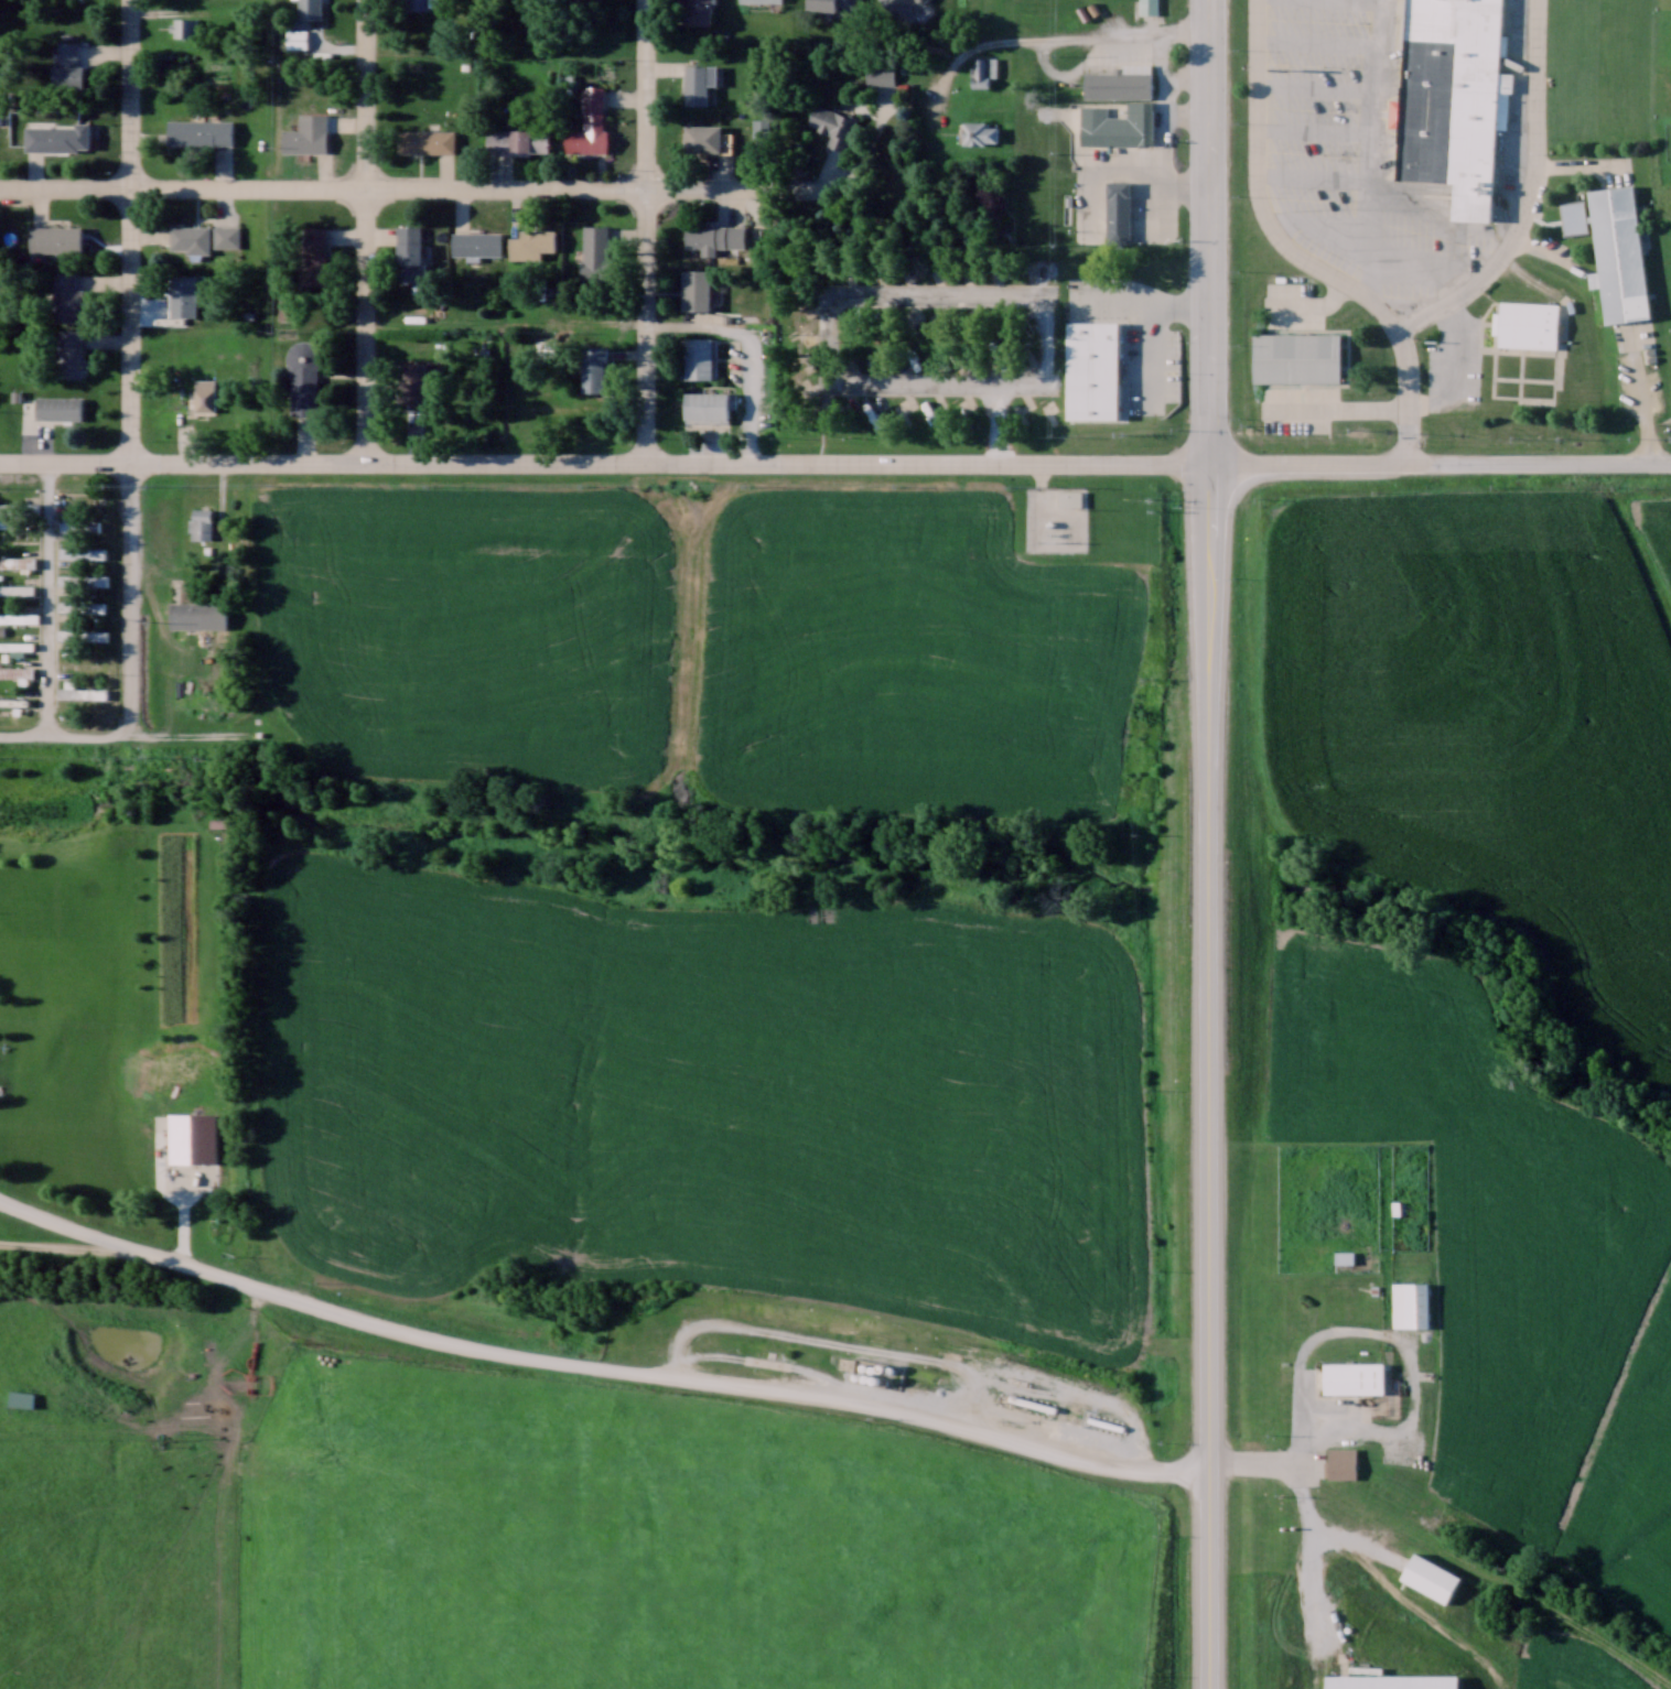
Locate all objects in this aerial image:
building: (761, 0)
building: (422, 3)
building: (835, 3)
building: (901, 6)
building: (310, 8)
building: (698, 11)
road: (1209, 19)
building: (184, 26)
road: (1039, 39)
building: (67, 63)
building: (983, 69)
building: (1120, 80)
building: (699, 82)
road: (270, 95)
building: (1455, 99)
building: (590, 122)
building: (1118, 123)
building: (833, 124)
building: (764, 128)
building: (201, 131)
building: (979, 132)
building: (308, 133)
building: (56, 136)
building: (703, 136)
building: (425, 140)
building: (517, 140)
road: (63, 187)
road: (474, 191)
road: (1529, 195)
building: (1119, 210)
building: (1574, 216)
road: (126, 230)
road: (370, 232)
road: (650, 232)
building: (226, 236)
building: (715, 236)
building: (55, 238)
building: (191, 238)
building: (532, 242)
building: (476, 243)
building: (595, 249)
road: (1293, 250)
building: (410, 252)
building: (1623, 255)
building: (315, 256)
building: (946, 266)
building: (1041, 266)
building: (696, 288)
building: (183, 294)
building: (65, 295)
road: (973, 299)
road: (1162, 305)
building: (287, 307)
building: (1530, 327)
road: (709, 331)
building: (71, 353)
building: (700, 356)
building: (1298, 360)
building: (593, 368)
building: (304, 378)
road: (1210, 379)
building: (413, 381)
road: (953, 388)
road: (1649, 393)
building: (204, 396)
building: (708, 405)
building: (58, 407)
building: (1084, 424)
road: (1440, 462)
road: (65, 463)
road: (670, 465)
building: (1070, 497)
building: (19, 509)
building: (202, 523)
building: (78, 526)
road: (1637, 546)
building: (82, 552)
building: (17, 562)
building: (82, 580)
building: (17, 589)
road: (47, 602)
building: (80, 606)
building: (198, 614)
building: (18, 617)
building: (80, 634)
road: (136, 639)
building: (17, 646)
building: (80, 664)
building: (17, 672)
building: (79, 692)
building: (17, 703)
road: (23, 739)
building: (0, 1089)
road: (1207, 1204)
building: (1410, 1303)
road: (595, 1372)
building: (1354, 1377)
building: (1074, 1414)
building: (1106, 1422)
road: (1399, 1427)
road: (1254, 1462)
building: (1340, 1462)
building: (1431, 1577)
building: (1391, 1680)

